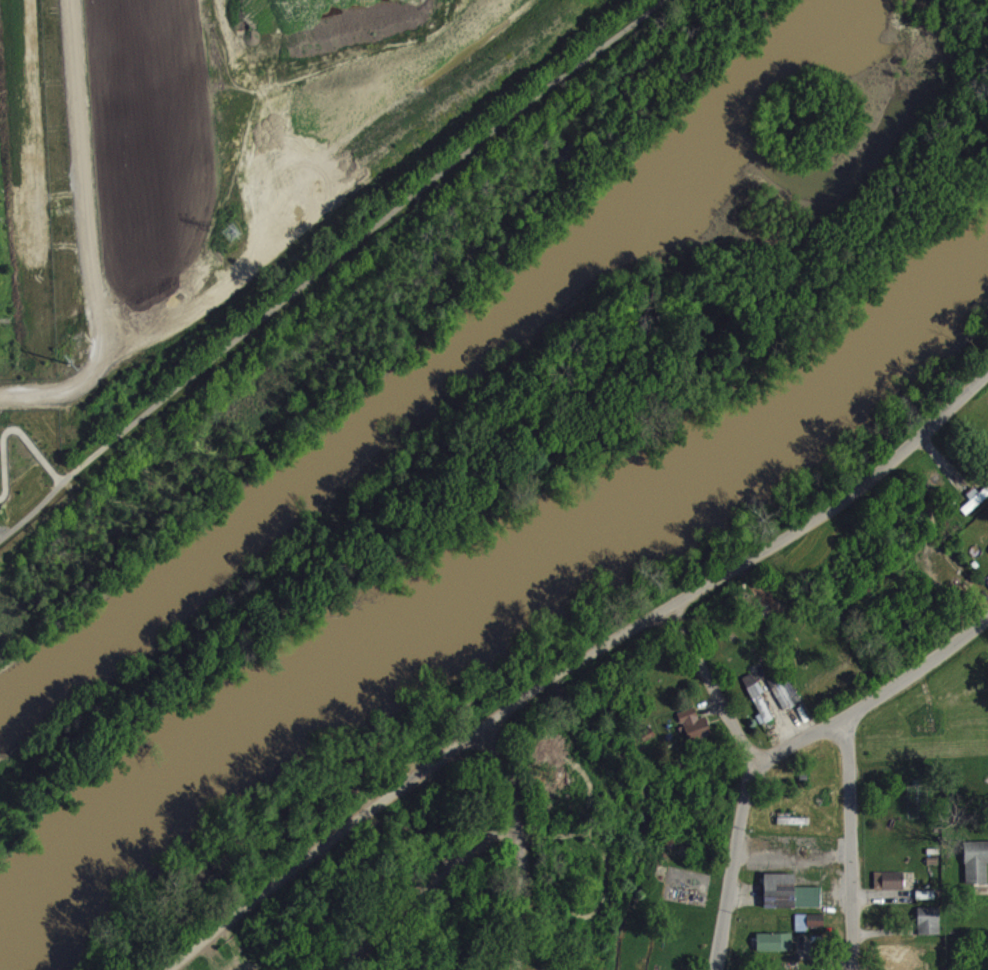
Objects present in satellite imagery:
road: (88, 234)
power tower: (231, 236)
road: (329, 263)
power tower: (67, 362)
road: (10, 428)
building: (976, 506)
river: (481, 592)
road: (575, 668)
building: (786, 699)
road: (873, 699)
building: (758, 706)
building: (695, 731)
road: (752, 780)
road: (854, 842)
road: (517, 847)
building: (977, 870)
building: (890, 888)
road: (433, 898)
building: (790, 900)
building: (926, 902)
building: (929, 928)
building: (809, 929)
building: (774, 949)
building: (896, 962)

